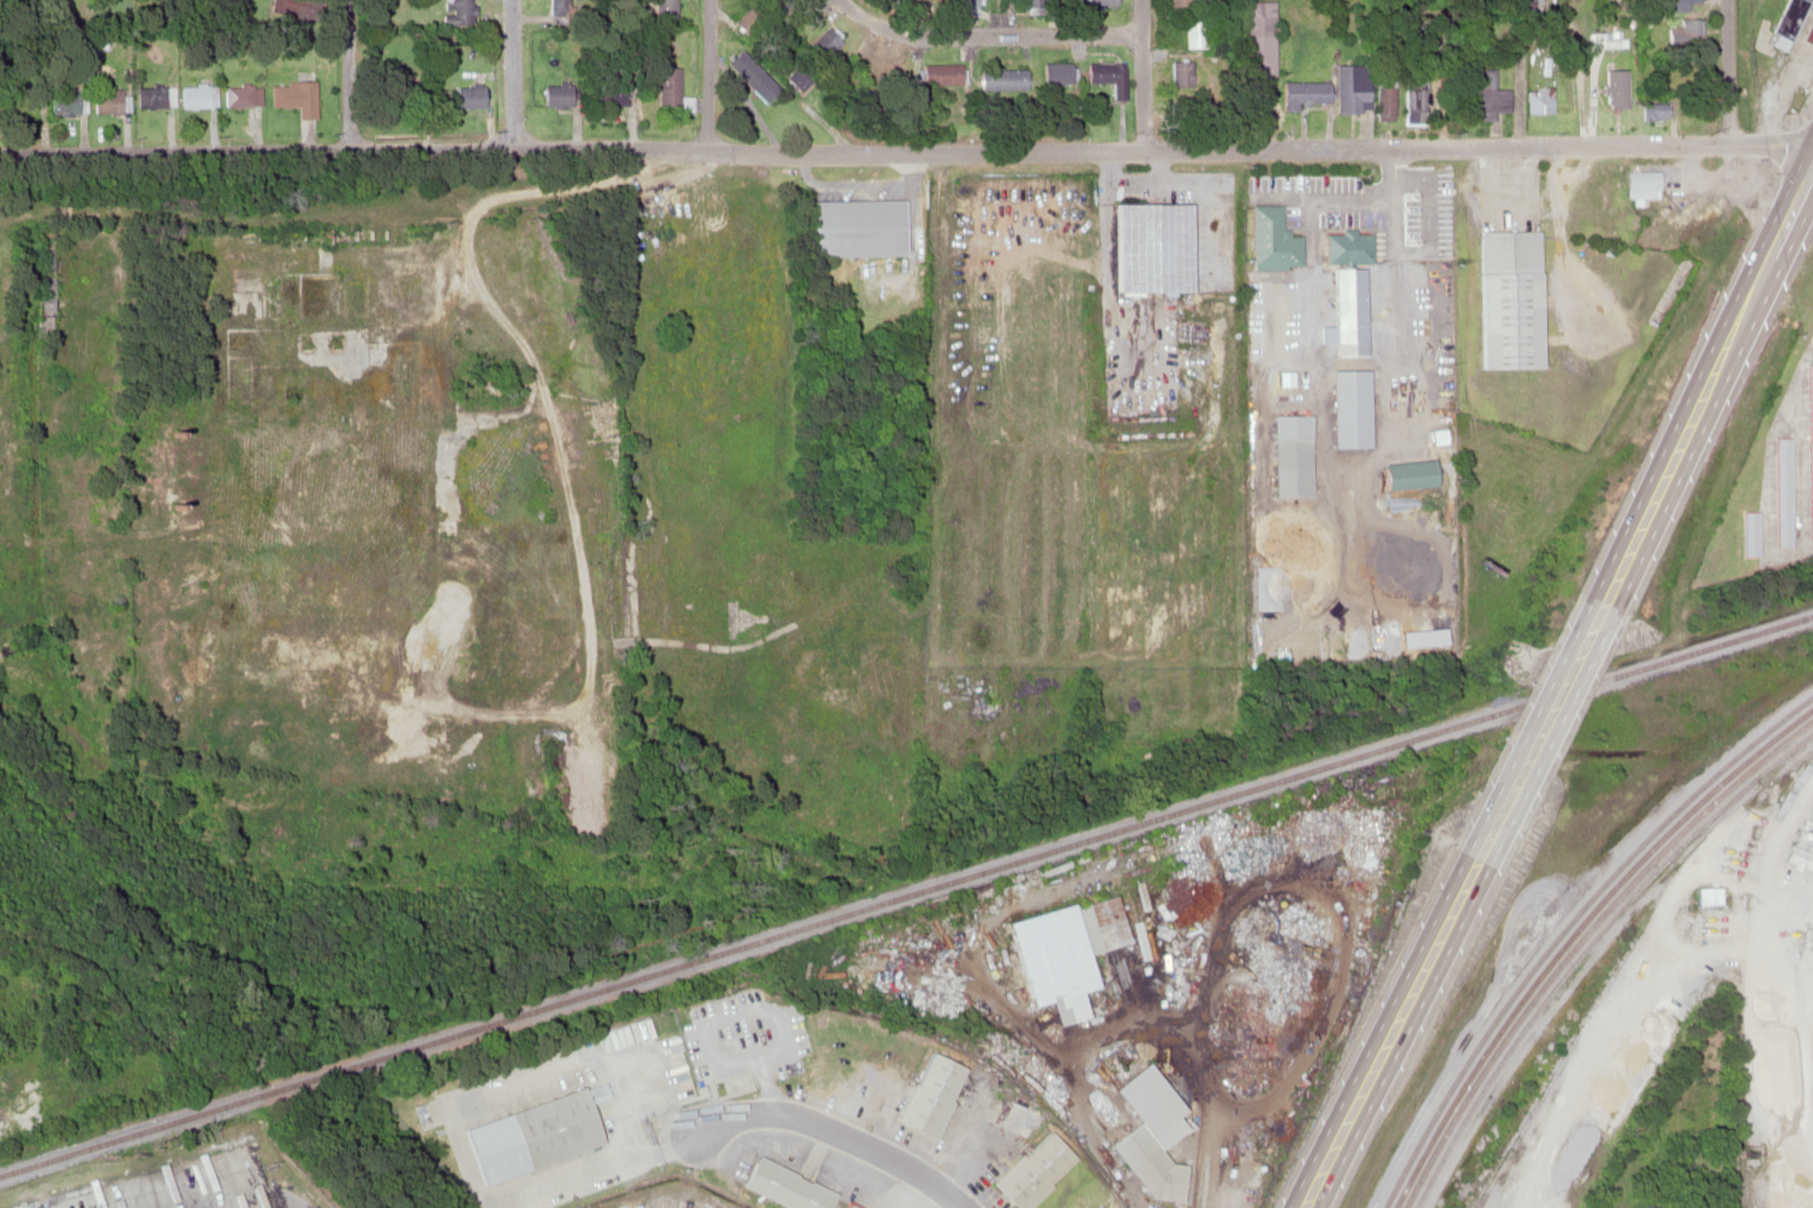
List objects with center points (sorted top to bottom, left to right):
building: (899, 0)
building: (960, 2)
building: (1032, 2)
building: (1097, 2)
building: (1176, 2)
building: (1670, 5)
building: (557, 8)
building: (661, 10)
building: (458, 13)
road: (1006, 16)
building: (1788, 23)
building: (1686, 30)
road: (992, 32)
building: (1193, 32)
building: (1257, 38)
building: (822, 43)
building: (871, 64)
road: (348, 71)
road: (1726, 71)
road: (513, 72)
building: (1057, 72)
road: (706, 73)
building: (936, 73)
building: (1108, 75)
road: (1144, 75)
building: (997, 78)
building: (753, 79)
building: (667, 87)
building: (1349, 88)
building: (618, 91)
building: (1300, 93)
building: (243, 94)
building: (556, 94)
building: (197, 95)
building: (150, 96)
building: (294, 96)
building: (469, 96)
building: (1384, 97)
building: (1483, 97)
building: (1537, 99)
building: (106, 100)
building: (1413, 100)
building: (24, 101)
building: (65, 102)
building: (1653, 109)
road: (906, 148)
building: (1641, 183)
building: (1695, 215)
building: (854, 227)
building: (327, 238)
building: (1272, 240)
building: (1347, 246)
building: (1150, 248)
building: (44, 298)
building: (1507, 298)
road: (1700, 382)
chimney: (171, 433)
building: (1289, 454)
building: (345, 462)
building: (1406, 474)
chimney: (173, 510)
building: (1417, 520)
building: (489, 637)
building: (554, 650)
road: (1526, 724)
railway: (906, 892)
building: (1707, 895)
building: (1099, 923)
building: (1708, 923)
railway: (1569, 927)
railway: (1575, 933)
railway: (1580, 939)
railway: (1587, 947)
building: (1063, 1004)
road: (1383, 1029)
building: (930, 1094)
building: (551, 1126)
road: (837, 1135)
building: (1146, 1164)
building: (1032, 1170)
building: (209, 1185)
building: (785, 1185)
building: (848, 1206)
building: (1096, 1206)
building: (1650, 1207)

